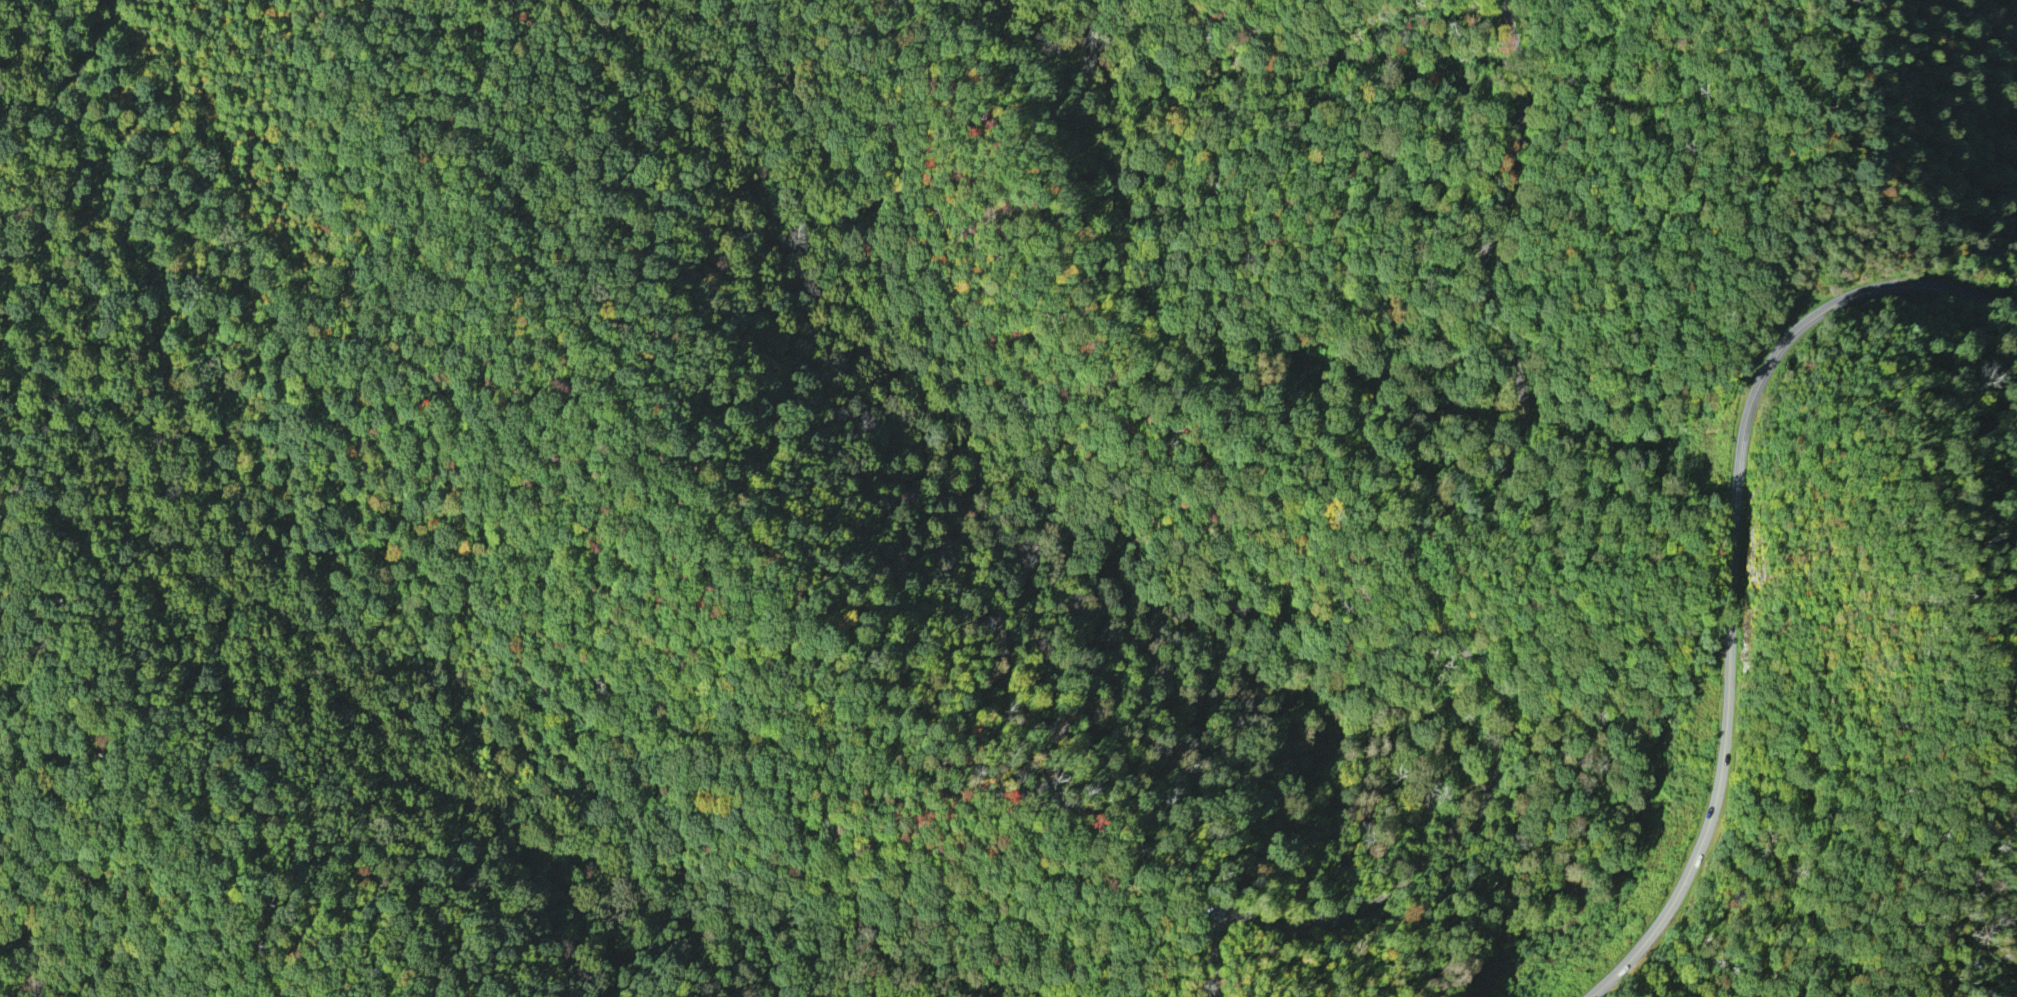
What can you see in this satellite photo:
road: (79, 89)
road: (1734, 558)
road: (1414, 581)

